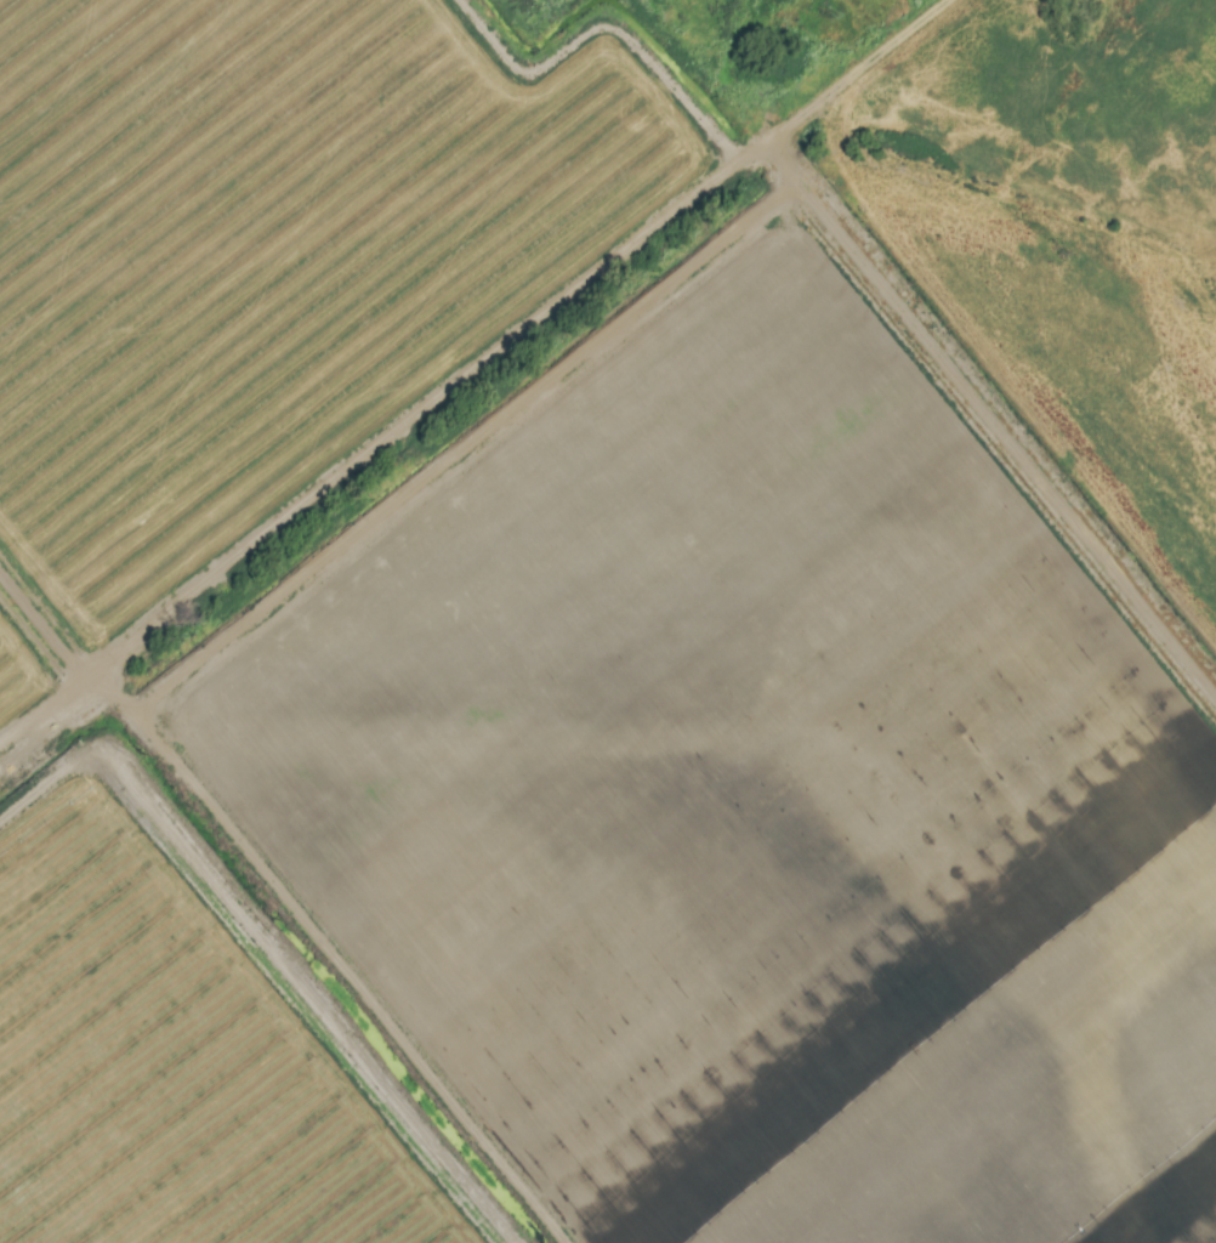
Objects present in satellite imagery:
crop: (608, 621)

